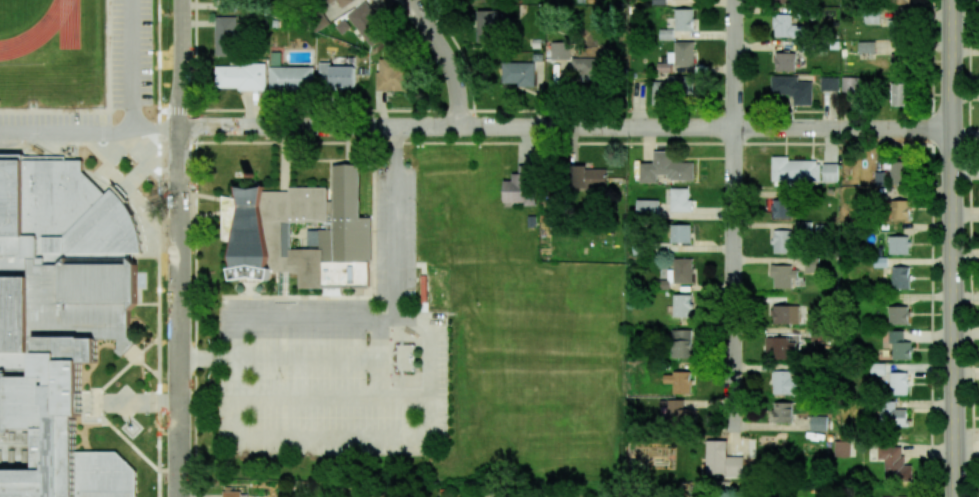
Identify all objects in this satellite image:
building: (329, 1)
building: (784, 1)
building: (901, 1)
building: (342, 2)
building: (227, 5)
building: (683, 19)
building: (365, 25)
building: (488, 25)
building: (786, 26)
track: (46, 30)
building: (666, 34)
building: (225, 36)
building: (866, 47)
building: (559, 50)
building: (684, 53)
road: (449, 57)
building: (784, 61)
road: (132, 64)
road: (733, 64)
building: (664, 67)
building: (587, 68)
building: (518, 73)
building: (391, 75)
building: (336, 76)
building: (241, 77)
building: (291, 78)
building: (829, 83)
building: (850, 86)
building: (673, 88)
building: (792, 89)
building: (899, 93)
road: (567, 125)
road: (91, 133)
building: (665, 168)
building: (795, 171)
building: (830, 172)
building: (899, 172)
building: (586, 178)
flagpole: (326, 181)
building: (519, 189)
building: (680, 200)
building: (647, 206)
building: (782, 208)
building: (900, 209)
road: (396, 222)
building: (254, 226)
building: (680, 233)
building: (782, 241)
building: (898, 245)
road: (180, 248)
road: (931, 248)
road: (952, 248)
road: (970, 248)
building: (677, 274)
building: (783, 276)
road: (733, 277)
building: (900, 277)
building: (682, 305)
building: (785, 314)
building: (898, 315)
building: (59, 324)
building: (681, 343)
building: (899, 346)
building: (780, 347)
road: (211, 358)
road: (311, 358)
road: (380, 362)
building: (679, 382)
building: (786, 382)
building: (898, 383)
road: (335, 402)
road: (429, 406)
building: (782, 412)
building: (679, 413)
building: (891, 414)
flagpole: (103, 423)
building: (818, 423)
building: (843, 448)
building: (723, 460)
building: (894, 464)
road: (698, 492)
building: (231, 494)
building: (893, 496)

